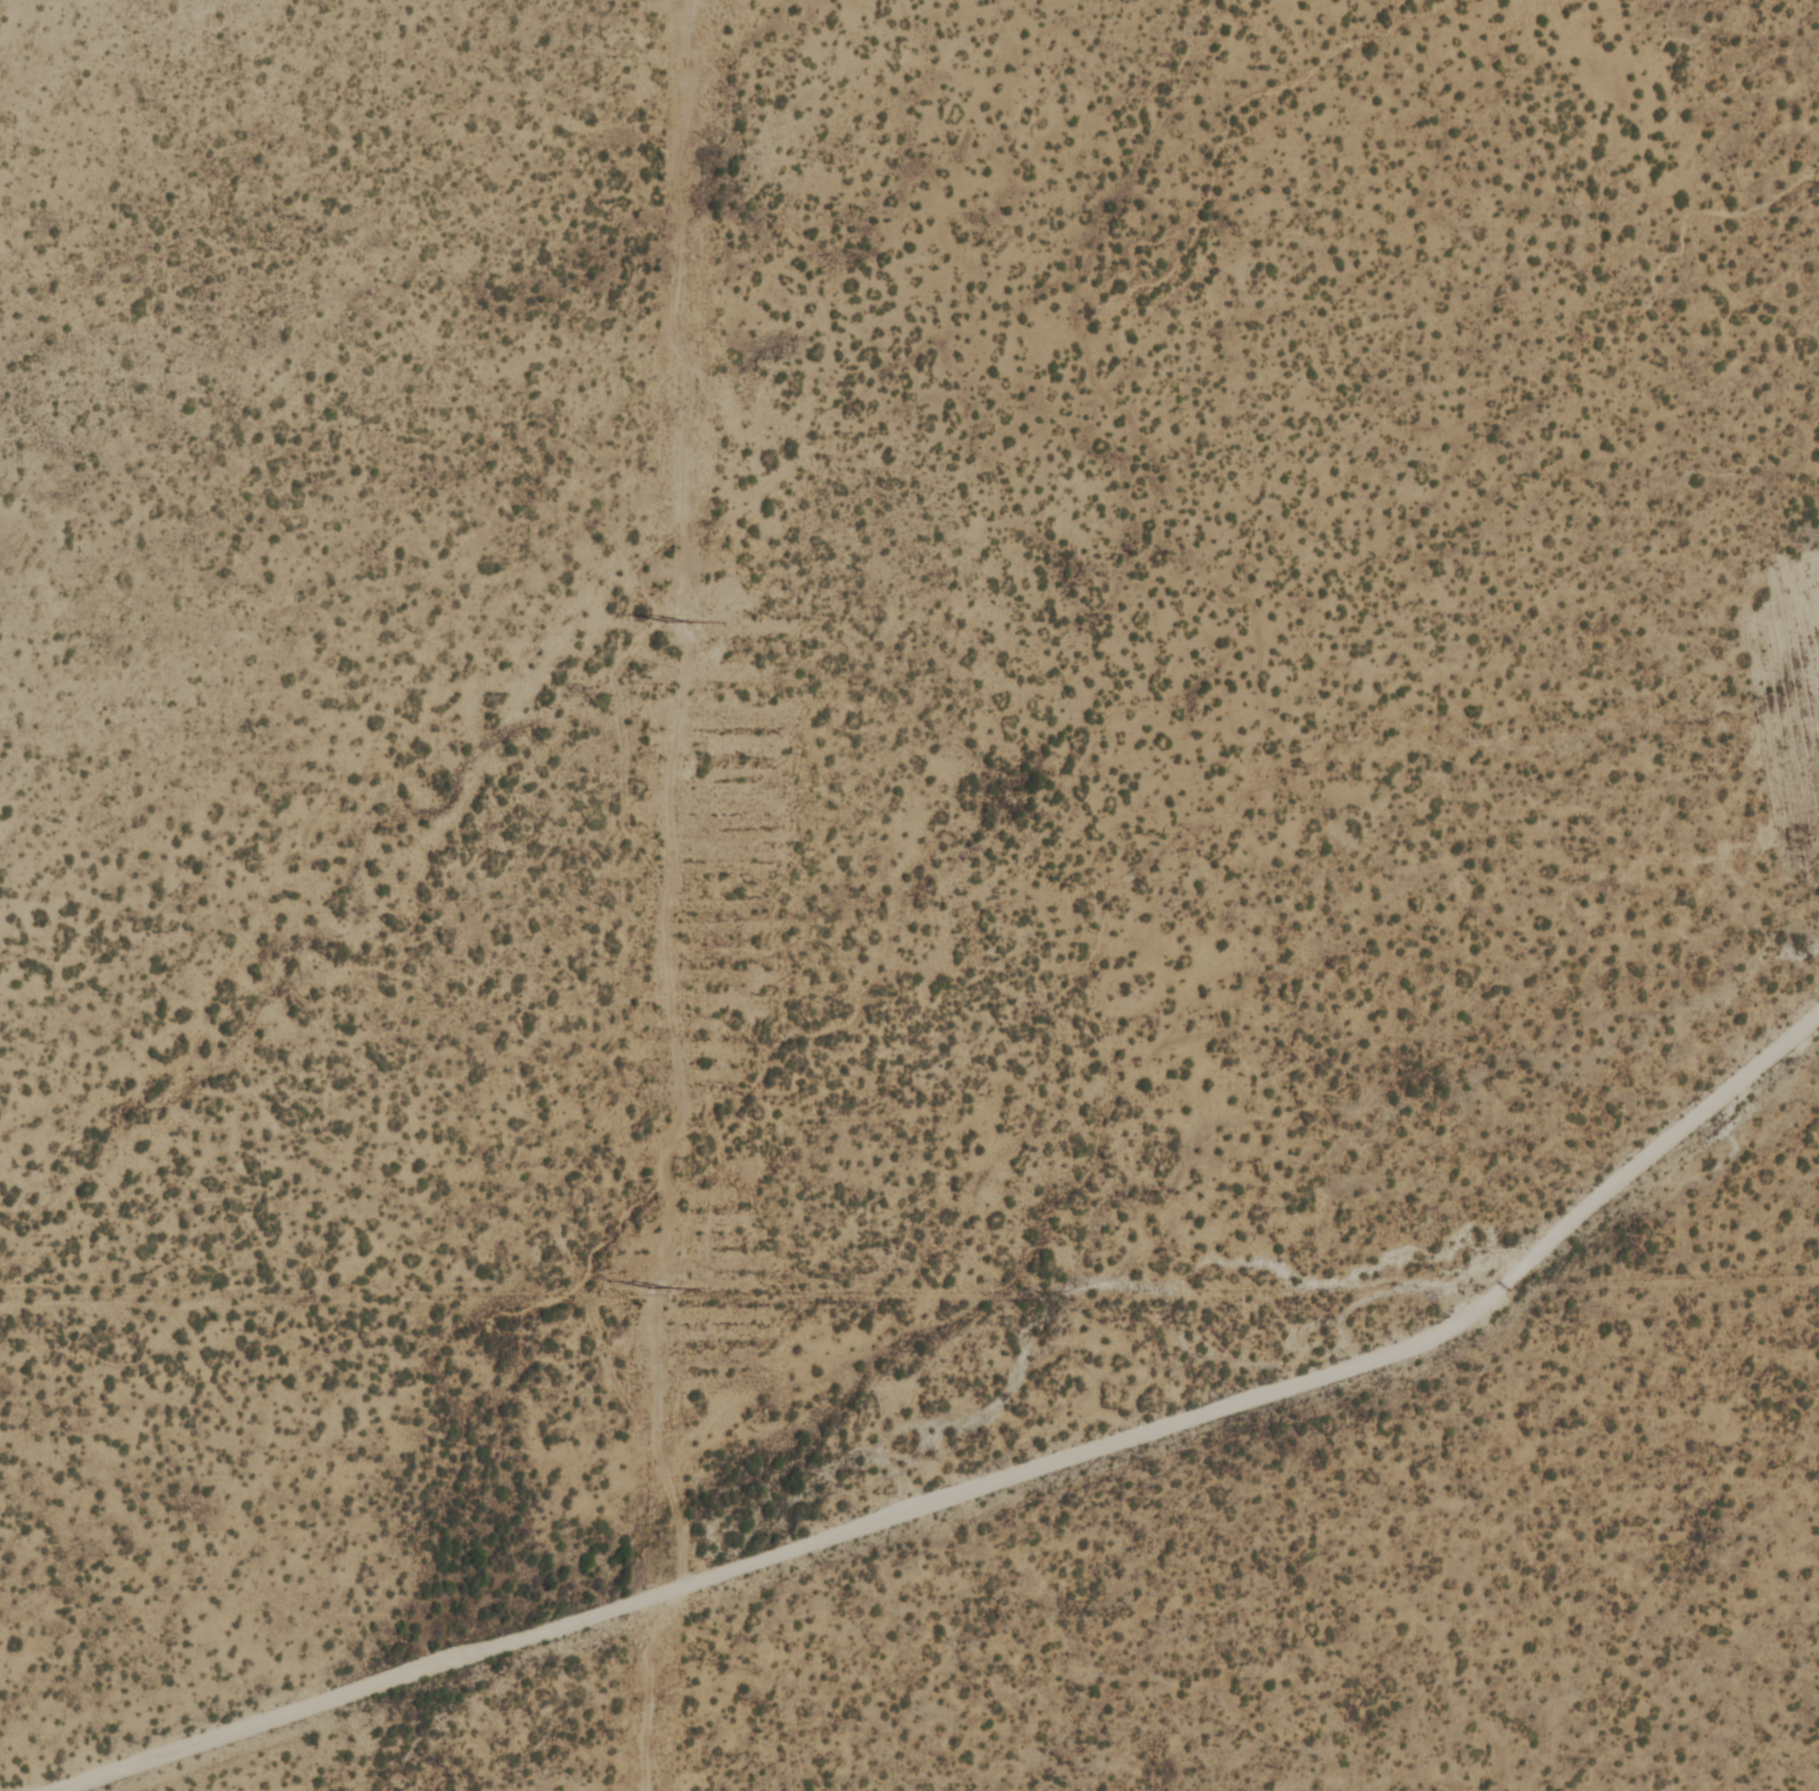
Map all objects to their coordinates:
power tower: (673, 625)
power tower: (656, 1290)
road: (981, 1486)

